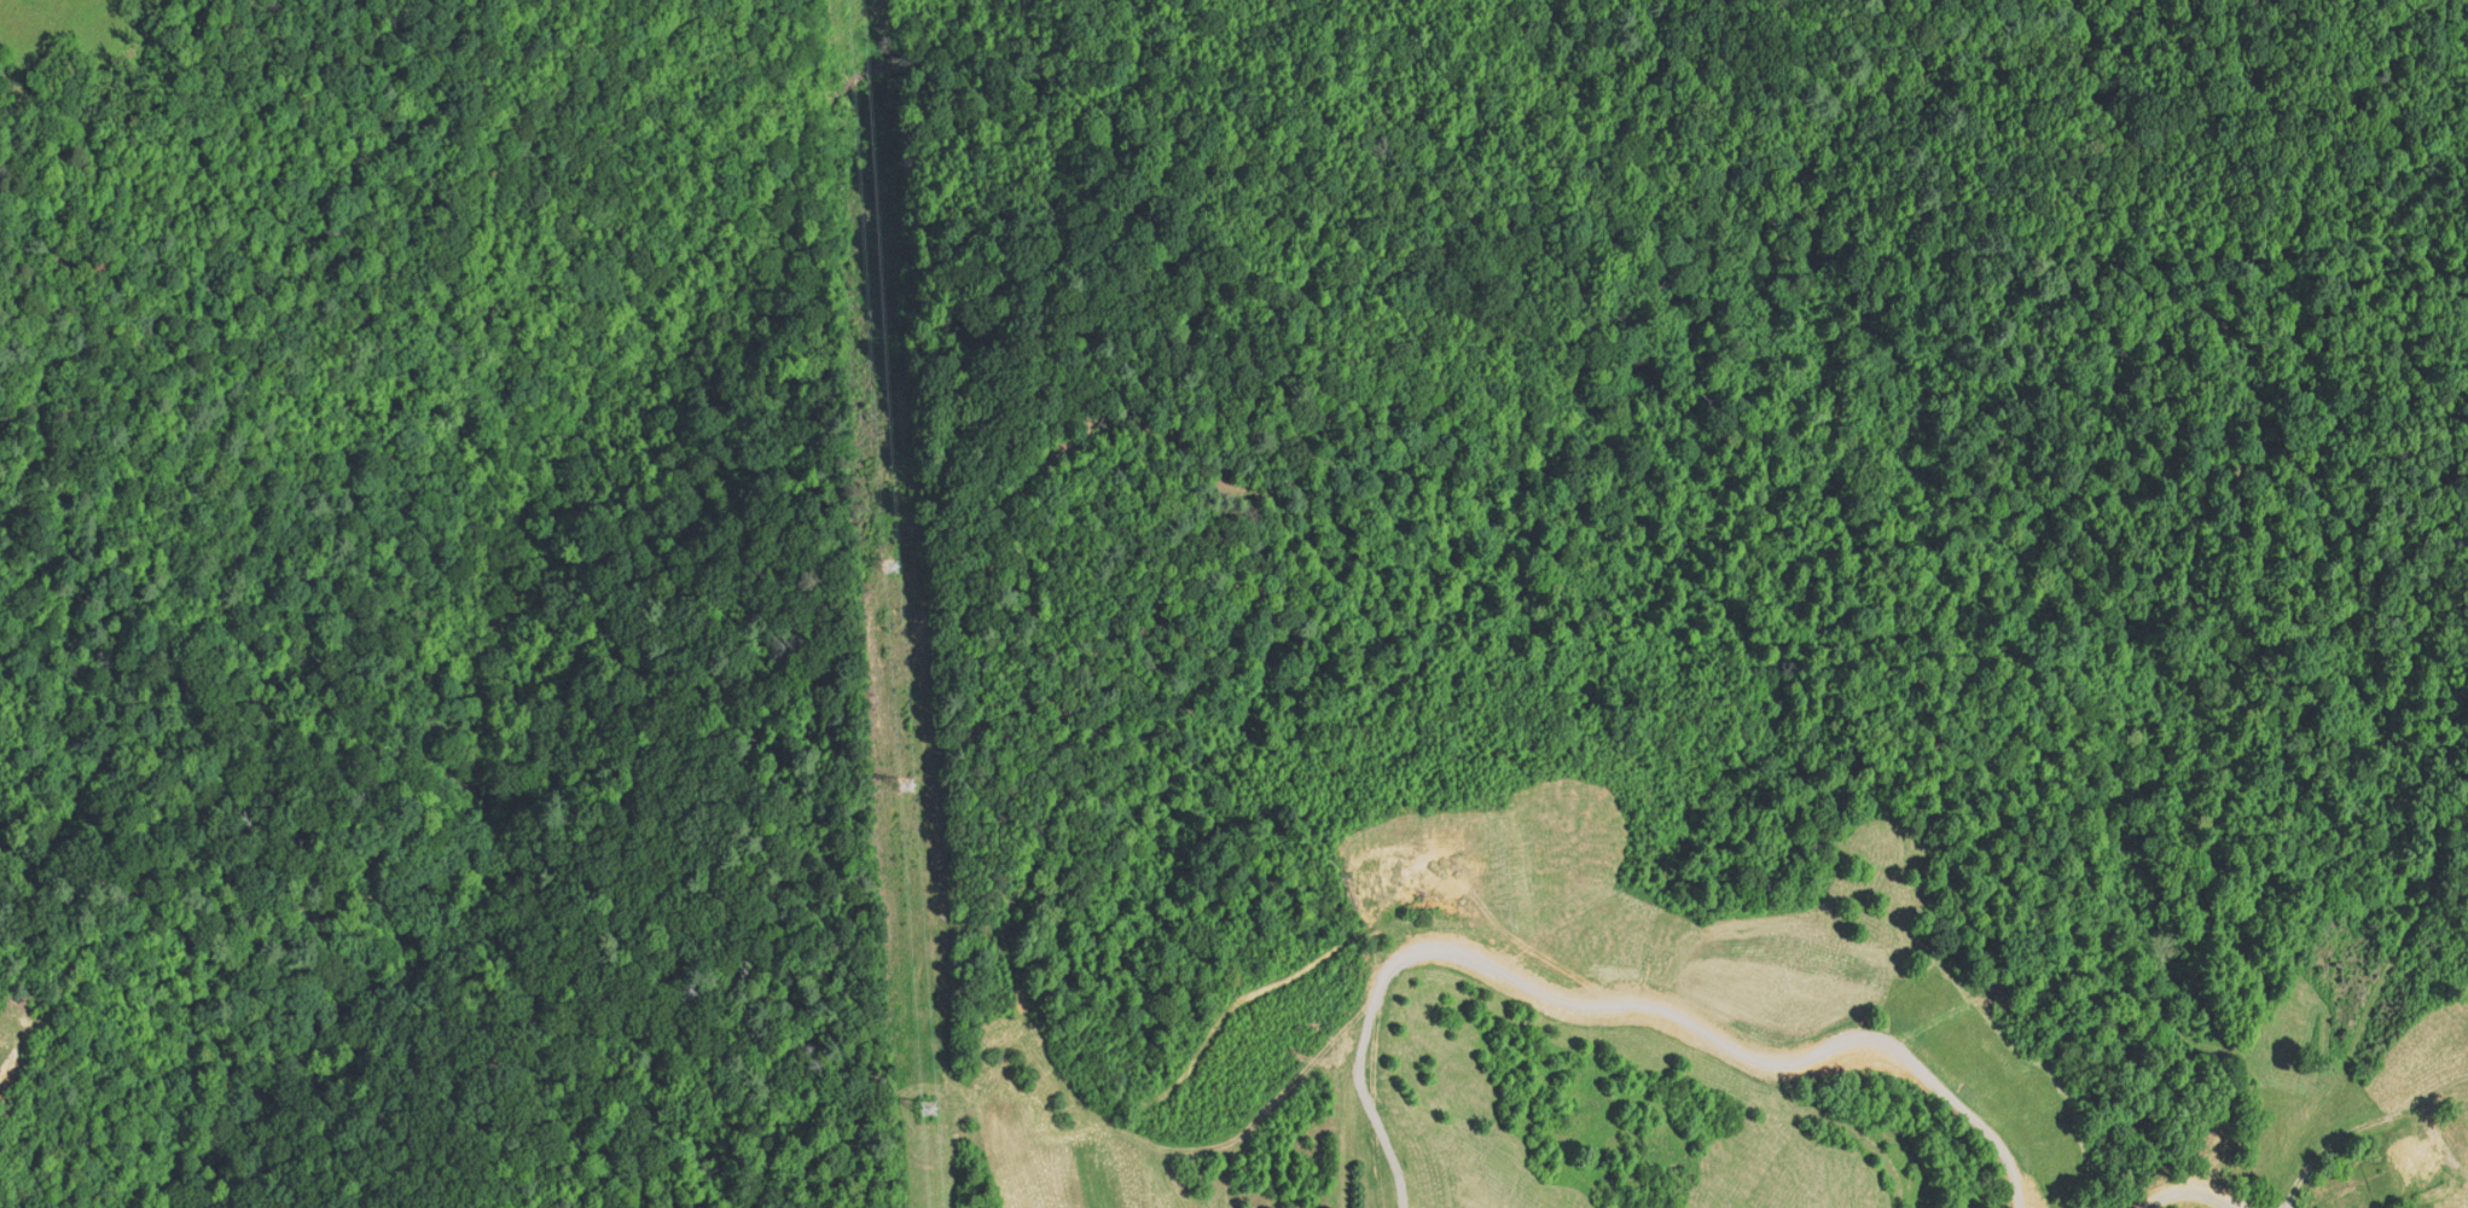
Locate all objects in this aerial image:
power tower: (893, 561)
power tower: (908, 786)
power tower: (929, 1103)
road: (2357, 1128)
building: (2415, 1160)

